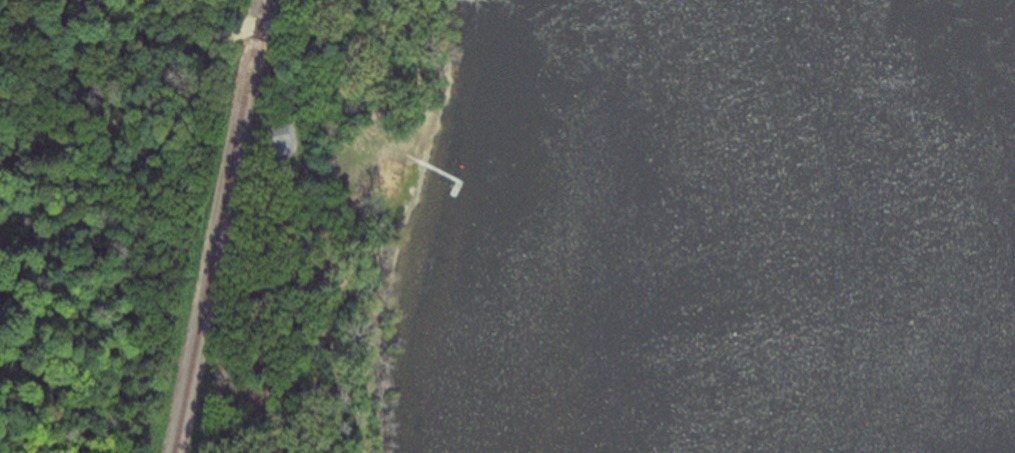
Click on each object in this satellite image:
park: (131, 19)
railway: (219, 226)

